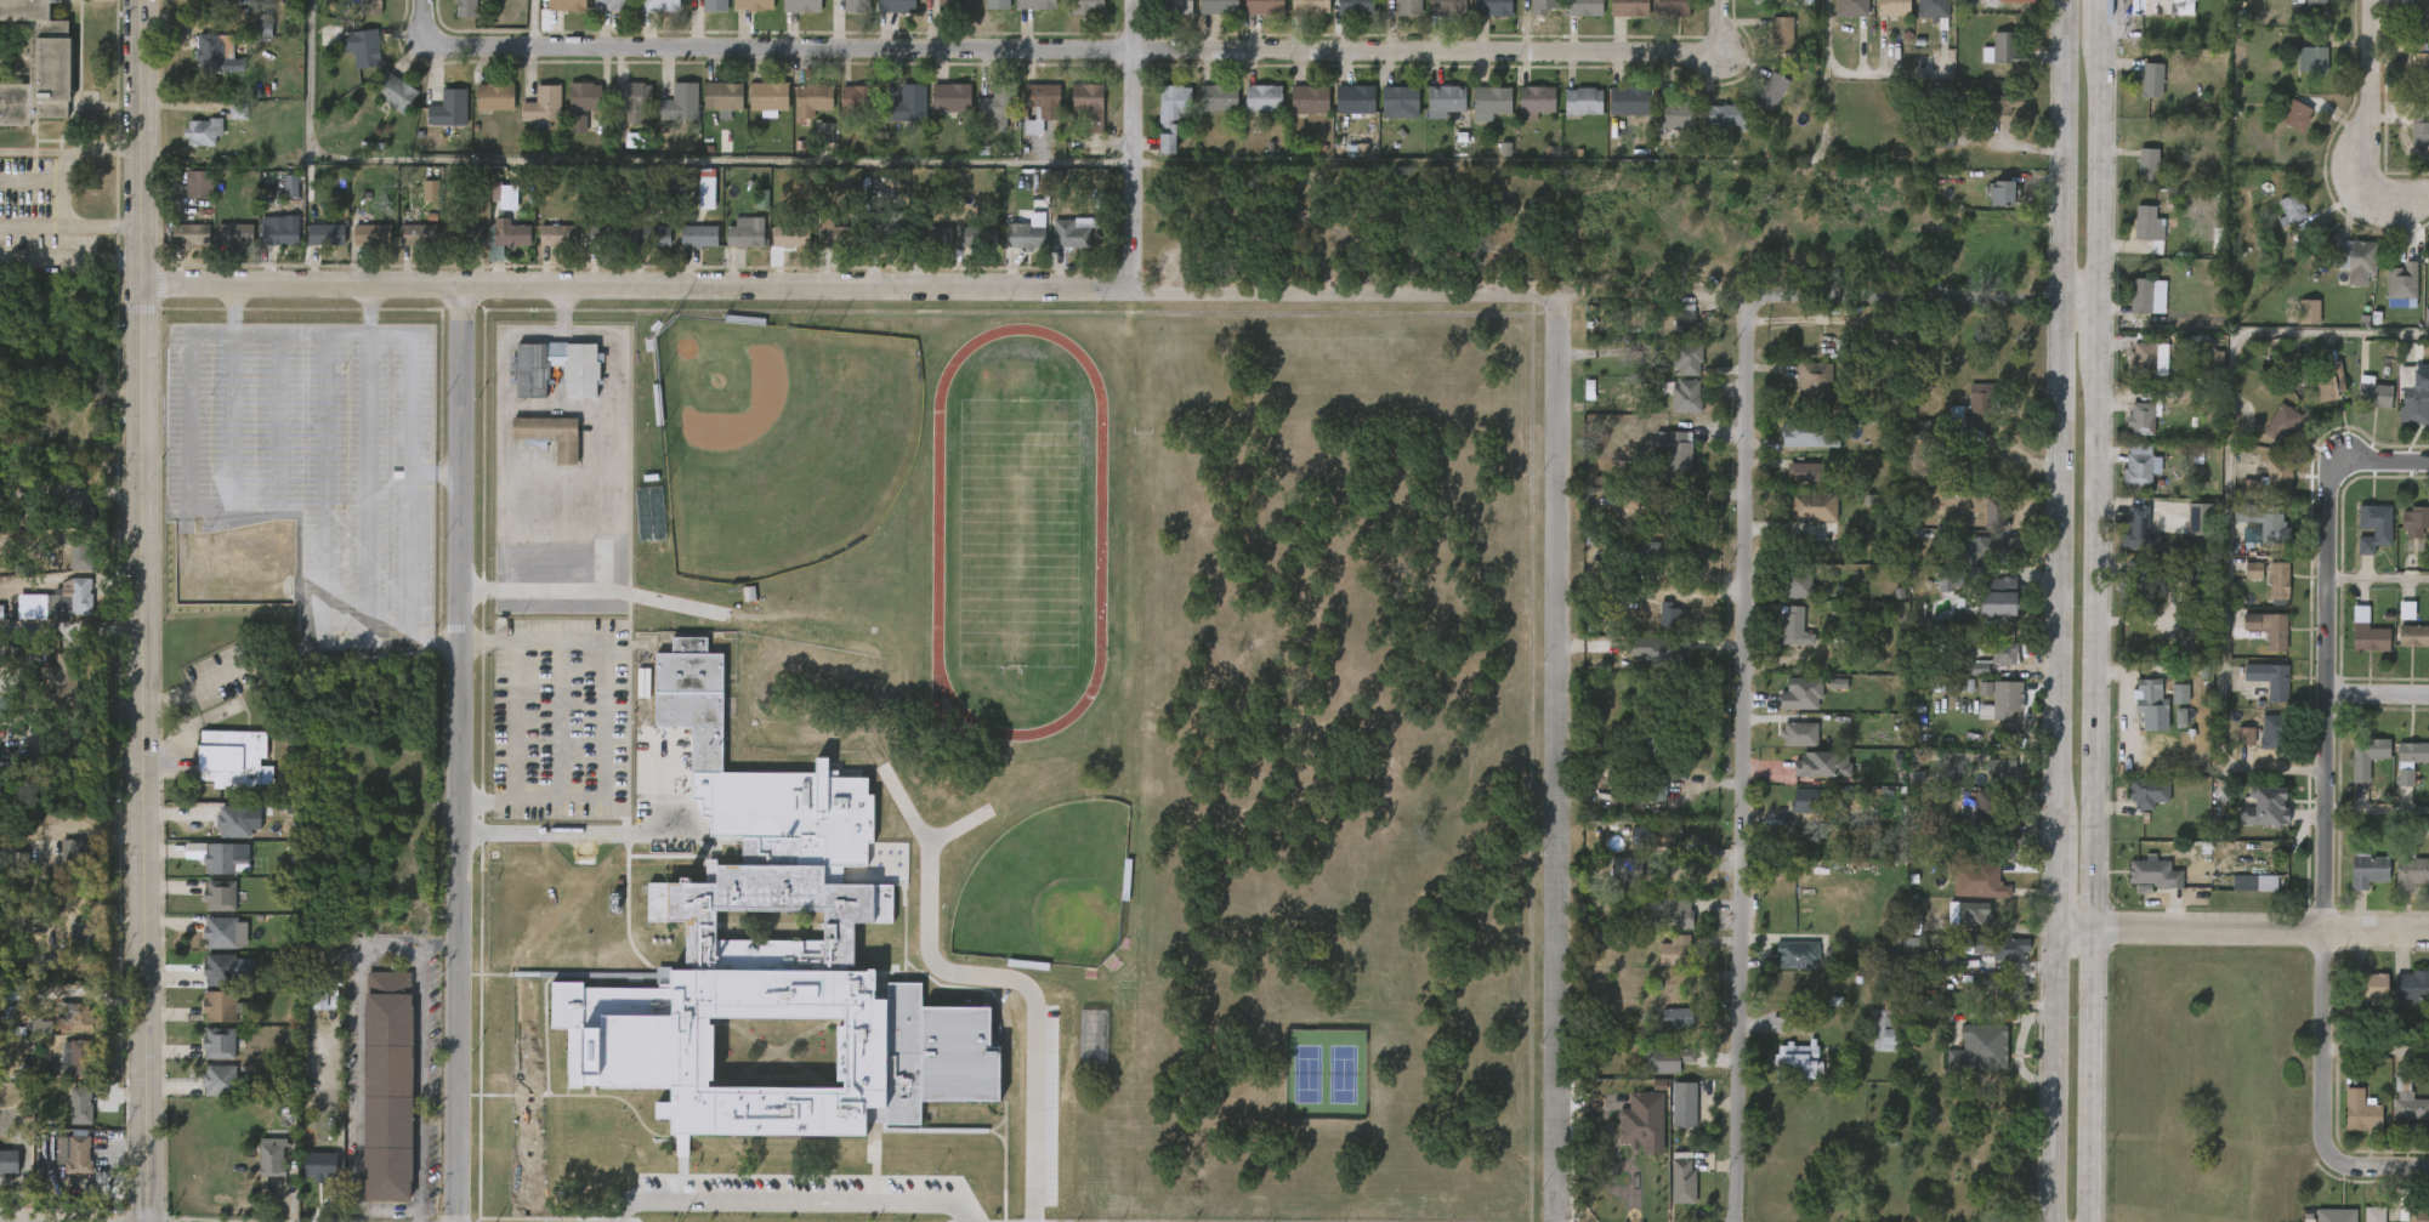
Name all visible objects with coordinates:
building: (1763, 0)
building: (2024, 0)
building: (2319, 1)
building: (566, 4)
building: (997, 4)
building: (754, 5)
building: (1037, 5)
building: (612, 6)
building: (657, 6)
building: (713, 6)
building: (856, 6)
building: (895, 6)
building: (1175, 6)
building: (1219, 6)
building: (1310, 6)
building: (1895, 6)
building: (2163, 6)
building: (369, 7)
building: (800, 7)
building: (1086, 7)
building: (1265, 7)
building: (1355, 7)
building: (1408, 7)
building: (1447, 7)
building: (1580, 7)
building: (1669, 7)
building: (1748, 7)
building: (1851, 7)
building: (1933, 7)
building: (2003, 7)
building: (2299, 7)
building: (467, 8)
building: (949, 8)
building: (1492, 8)
building: (1625, 8)
building: (981, 10)
road: (2104, 11)
building: (1391, 12)
building: (2418, 13)
building: (454, 15)
building: (1341, 15)
building: (1879, 16)
building: (1571, 17)
road: (535, 22)
building: (2408, 27)
building: (1782, 34)
building: (251, 42)
building: (364, 47)
road: (1078, 49)
building: (1767, 49)
building: (2008, 49)
building: (214, 51)
building: (2309, 59)
building: (348, 62)
building: (2411, 62)
building: (2419, 63)
building: (36, 64)
building: (1988, 64)
building: (2298, 73)
building: (2410, 79)
building: (2150, 80)
road: (2371, 80)
road: (1823, 81)
building: (1771, 90)
building: (393, 91)
building: (2138, 95)
building: (493, 96)
building: (767, 96)
building: (949, 96)
building: (1219, 96)
building: (721, 97)
building: (1262, 97)
building: (858, 98)
building: (1309, 98)
building: (1355, 98)
building: (630, 100)
building: (811, 100)
building: (1445, 100)
building: (1492, 100)
building: (1536, 100)
building: (1628, 100)
building: (1400, 101)
building: (1583, 101)
building: (1999, 101)
building: (580, 102)
building: (680, 102)
building: (908, 103)
building: (998, 104)
building: (1040, 104)
building: (541, 106)
building: (1757, 106)
building: (384, 107)
building: (1088, 107)
building: (447, 109)
building: (482, 110)
building: (846, 110)
building: (710, 112)
building: (755, 112)
building: (937, 112)
building: (1207, 112)
building: (1249, 112)
building: (1170, 113)
building: (1341, 113)
building: (799, 114)
building: (1296, 114)
building: (1431, 114)
building: (1675, 114)
building: (1521, 115)
building: (1570, 115)
building: (1614, 115)
building: (1724, 115)
building: (2293, 115)
building: (668, 116)
building: (1386, 116)
building: (1476, 116)
building: (569, 118)
building: (620, 118)
building: (896, 118)
building: (1076, 119)
building: (1990, 121)
building: (436, 123)
building: (983, 123)
building: (1158, 129)
building: (1662, 129)
building: (2419, 129)
building: (1713, 130)
building: (2282, 130)
building: (200, 131)
road: (134, 140)
building: (1020, 141)
building: (189, 146)
building: (811, 146)
road: (1134, 146)
building: (2412, 148)
road: (2061, 150)
road: (649, 157)
road: (2100, 163)
road: (67, 165)
building: (2149, 165)
building: (2134, 180)
building: (198, 184)
road: (2390, 187)
building: (2003, 191)
building: (187, 198)
building: (278, 200)
road: (50, 203)
building: (693, 206)
building: (1990, 208)
building: (2291, 210)
building: (495, 211)
building: (750, 212)
building: (2149, 223)
building: (2276, 223)
building: (885, 228)
building: (277, 229)
building: (838, 232)
building: (233, 233)
building: (324, 233)
building: (461, 233)
building: (556, 233)
building: (187, 234)
building: (369, 234)
building: (418, 234)
building: (743, 234)
building: (1072, 234)
building: (605, 235)
building: (651, 235)
building: (930, 235)
building: (697, 237)
building: (789, 238)
building: (976, 238)
building: (1029, 238)
building: (2134, 238)
building: (505, 239)
road: (67, 240)
building: (266, 244)
building: (590, 245)
building: (732, 246)
building: (1059, 246)
building: (222, 248)
building: (313, 248)
building: (452, 248)
building: (177, 249)
building: (359, 249)
building: (405, 249)
building: (544, 249)
building: (639, 249)
building: (778, 249)
building: (823, 249)
building: (923, 249)
building: (494, 250)
building: (686, 250)
building: (965, 250)
road: (67, 261)
building: (2360, 263)
building: (2343, 274)
building: (2402, 282)
road: (851, 285)
building: (2423, 286)
building: (2143, 295)
road: (1885, 301)
road: (221, 308)
road: (356, 309)
building: (2310, 312)
building: (1674, 320)
building: (2294, 325)
road: (2096, 331)
building: (2419, 331)
road: (221, 341)
building: (1883, 348)
building: (1684, 358)
building: (2143, 358)
building: (2134, 371)
building: (579, 373)
building: (1674, 374)
building: (1815, 380)
building: (2332, 383)
building: (1800, 396)
building: (2316, 396)
building: (2373, 396)
building: (1684, 398)
building: (2413, 398)
building: (2359, 407)
building: (1673, 409)
building: (2402, 414)
building: (1962, 416)
building: (2141, 419)
building: (2280, 422)
building: (1805, 432)
building: (2128, 432)
building: (549, 434)
building: (2268, 437)
park: (777, 441)
building: (1909, 442)
building: (538, 448)
building: (1674, 450)
building: (1795, 450)
building: (1661, 465)
building: (2141, 466)
road: (2388, 466)
building: (1804, 471)
parking lot: (302, 479)
building: (2126, 479)
road: (311, 481)
road: (220, 482)
road: (265, 482)
building: (2266, 483)
road: (442, 484)
building: (1792, 485)
road: (354, 496)
building: (1810, 505)
building: (81, 506)
road: (2226, 506)
building: (1667, 511)
building: (1996, 513)
building: (67, 517)
building: (2376, 517)
building: (2201, 518)
building: (1799, 521)
building: (2416, 521)
building: (2261, 523)
building: (1981, 527)
building: (2136, 528)
park: (1015, 530)
road: (176, 532)
building: (2185, 533)
building: (2401, 535)
building: (2252, 539)
building: (2123, 541)
building: (2360, 541)
building: (1990, 549)
building: (81, 550)
building: (1662, 551)
road: (2059, 561)
building: (1640, 562)
building: (1981, 563)
building: (68, 569)
building: (1950, 578)
road: (2380, 578)
building: (2276, 581)
building: (1797, 582)
building: (2133, 584)
building: (2238, 584)
building: (80, 595)
building: (2264, 595)
building: (1935, 596)
building: (1999, 596)
building: (2198, 598)
building: (1784, 599)
building: (68, 609)
building: (1984, 609)
building: (1670, 615)
building: (544, 621)
building: (2393, 624)
building: (1792, 626)
building: (2269, 629)
building: (1656, 630)
building: (2412, 635)
building: (2367, 637)
building: (1781, 641)
building: (2254, 642)
building: (2354, 647)
building: (2402, 649)
building: (1653, 650)
building: (2002, 652)
building: (2428, 652)
road: (409, 657)
road: (442, 657)
building: (1641, 664)
building: (1990, 666)
building: (2266, 681)
building: (1963, 682)
building: (57, 686)
building: (2162, 688)
building: (2255, 693)
building: (2011, 694)
road: (2378, 694)
building: (691, 697)
building: (1787, 707)
building: (2166, 707)
building: (2134, 710)
building: (1992, 712)
parking lot: (558, 718)
road: (601, 720)
building: (1970, 724)
building: (2166, 731)
building: (2275, 732)
building: (2258, 745)
building: (1786, 748)
building: (2231, 750)
road: (141, 751)
road: (462, 752)
building: (2413, 752)
building: (1651, 754)
building: (2368, 756)
building: (229, 758)
road: (1566, 758)
road: (1748, 760)
building: (2401, 766)
building: (1996, 771)
building: (2353, 771)
road: (664, 773)
road: (887, 777)
building: (1807, 778)
building: (2428, 778)
building: (1988, 785)
road: (2329, 785)
road: (2092, 790)
building: (2146, 791)
building: (2390, 791)
building: (1588, 797)
building: (1805, 798)
building: (1987, 805)
building: (1645, 806)
building: (2134, 807)
building: (2268, 807)
road: (2378, 809)
building: (1793, 814)
building: (1964, 818)
building: (235, 822)
building: (2252, 822)
road: (572, 832)
building: (226, 834)
building: (1658, 837)
building: (2005, 841)
building: (1655, 851)
building: (74, 852)
building: (1999, 856)
building: (222, 860)
building: (63, 868)
building: (1623, 869)
building: (2365, 869)
building: (2410, 869)
road: (2056, 873)
building: (2153, 875)
building: (1987, 882)
building: (2253, 882)
building: (1612, 883)
building: (2354, 885)
building: (2399, 886)
building: (2138, 888)
park: (1044, 889)
building: (2427, 889)
building: (221, 896)
building: (1976, 896)
building: (2240, 897)
building: (206, 909)
building: (1673, 911)
building: (1974, 914)
building: (1663, 926)
building: (1954, 927)
road: (2242, 930)
building: (222, 932)
building: (80, 936)
building: (214, 947)
building: (68, 948)
building: (1891, 949)
building: (1675, 951)
building: (2013, 951)
building: (1797, 955)
road: (380, 961)
building: (1996, 964)
building: (1661, 965)
building: (1783, 968)
building: (221, 970)
building: (1936, 973)
building: (208, 982)
building: (2365, 985)
building: (2411, 987)
building: (2011, 991)
building: (2399, 1000)
building: (2357, 1001)
building: (1998, 1004)
building: (2427, 1006)
building: (220, 1007)
building: (762, 1011)
building: (1674, 1018)
building: (76, 1019)
building: (209, 1021)
building: (1888, 1024)
building: (67, 1030)
building: (1663, 1031)
building: (216, 1042)
building: (1871, 1044)
building: (1977, 1047)
road: (2379, 1048)
building: (206, 1057)
building: (81, 1059)
building: (1663, 1059)
building: (1795, 1061)
building: (62, 1072)
building: (1652, 1073)
road: (2053, 1074)
building: (1782, 1076)
building: (219, 1080)
building: (385, 1086)
building: (210, 1093)
building: (2407, 1101)
building: (1681, 1104)
building: (81, 1107)
building: (2361, 1110)
building: (2395, 1115)
building: (2425, 1115)
building: (1670, 1118)
building: (68, 1119)
building: (2346, 1125)
building: (863, 1129)
building: (1629, 1136)
building: (273, 1152)
building: (70, 1153)
building: (8, 1163)
building: (325, 1167)
building: (262, 1170)
road: (2351, 1173)
building: (307, 1177)
building: (1680, 1182)
building: (1669, 1194)
road: (785, 1200)
building: (2333, 1215)
building: (2372, 1215)
building: (2421, 1215)
building: (2360, 1221)

